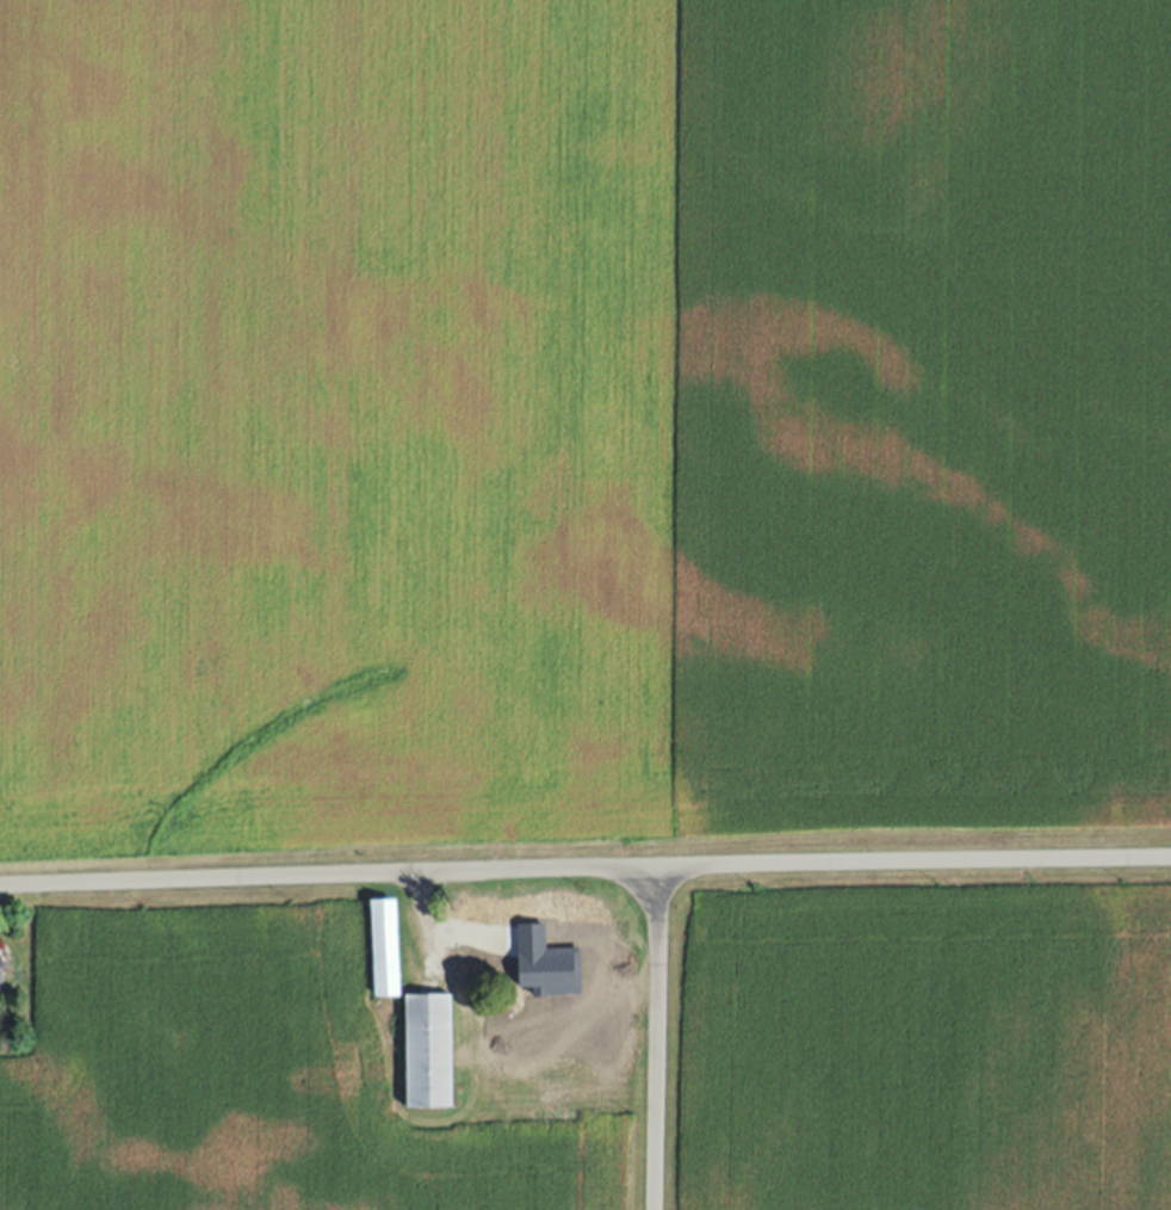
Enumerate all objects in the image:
road: (584, 868)
building: (481, 919)
road: (427, 924)
building: (384, 947)
building: (0, 970)
road: (658, 1038)
building: (428, 1049)

